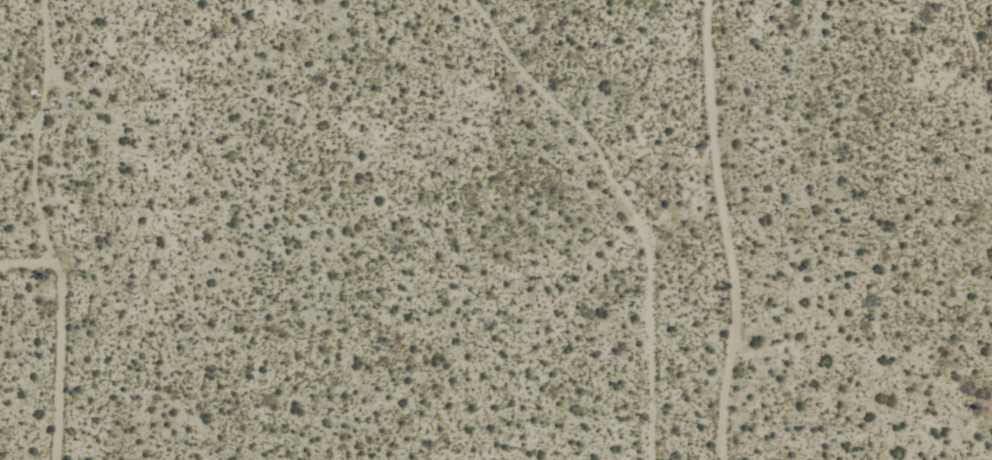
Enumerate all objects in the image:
road: (496, 412)

